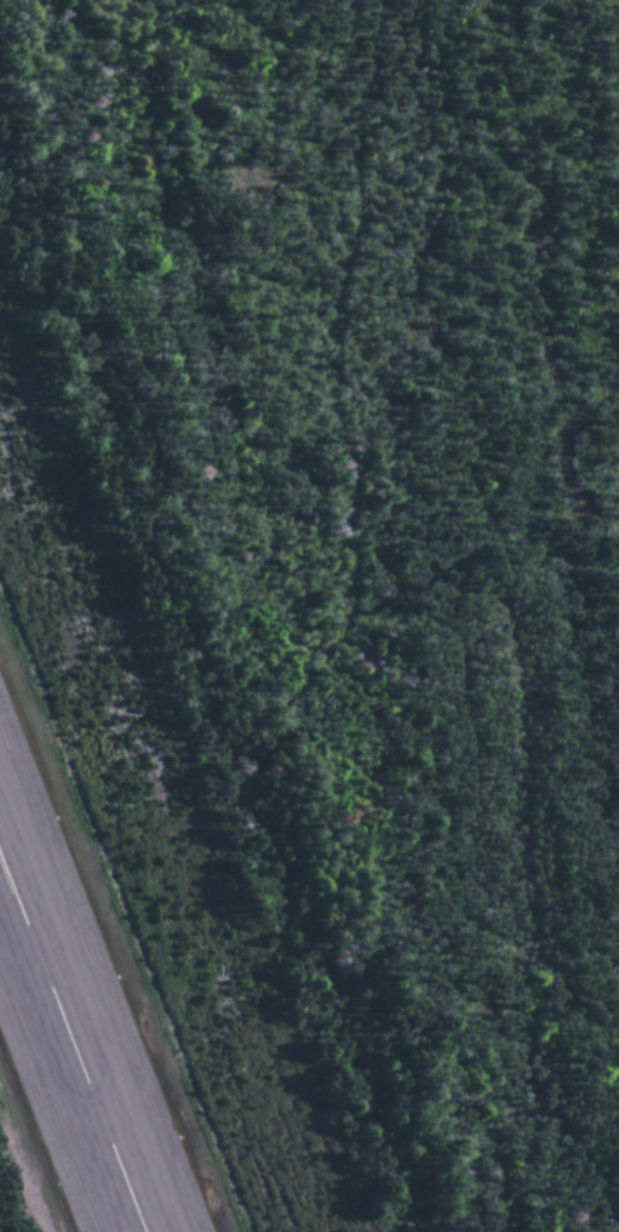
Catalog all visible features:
airport: (204, 759)
airport runway: (75, 1037)

